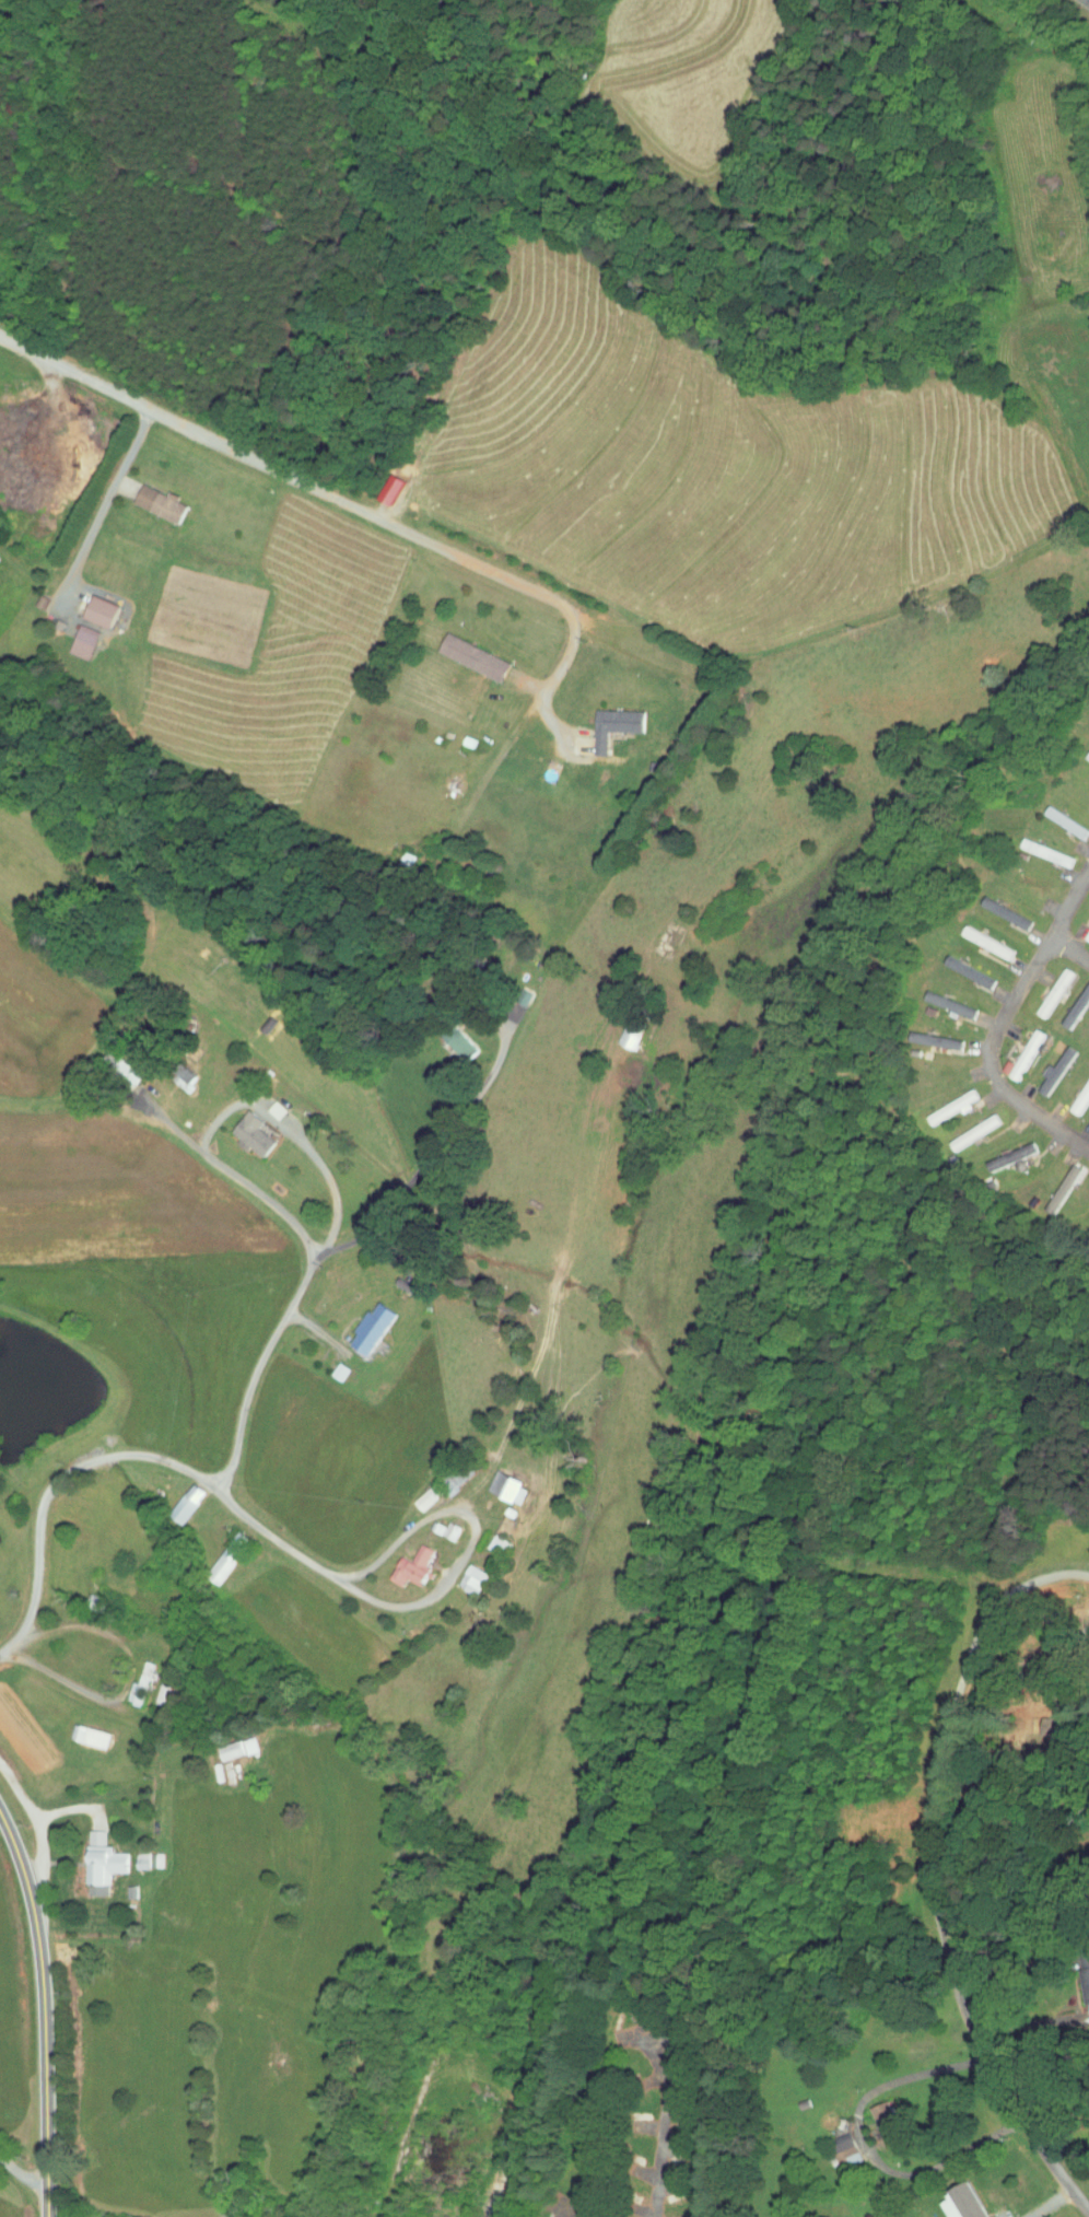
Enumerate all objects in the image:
road: (289, 475)
building: (152, 498)
road: (105, 500)
building: (94, 606)
building: (75, 635)
building: (466, 651)
road: (548, 686)
building: (607, 720)
building: (977, 936)
road: (1069, 952)
building: (961, 966)
building: (1045, 987)
building: (1069, 997)
building: (941, 999)
road: (996, 1025)
building: (621, 1028)
building: (928, 1035)
building: (450, 1038)
building: (1088, 1046)
building: (1014, 1050)
building: (115, 1062)
building: (1044, 1066)
building: (1076, 1086)
building: (942, 1100)
building: (265, 1104)
road: (227, 1110)
building: (965, 1125)
building: (245, 1129)
building: (1003, 1150)
building: (1053, 1182)
building: (363, 1322)
building: (330, 1365)
road: (239, 1413)
building: (446, 1472)
building: (500, 1480)
building: (417, 1492)
building: (179, 1496)
building: (436, 1522)
road: (473, 1536)
road: (271, 1537)
building: (220, 1551)
building: (403, 1561)
building: (467, 1573)
road: (129, 1670)
building: (155, 1688)
building: (81, 1729)
building: (229, 1742)
road: (72, 1808)
road: (39, 1820)
building: (139, 1854)
building: (92, 1856)
road: (1028, 1862)
road: (934, 1876)
road: (1009, 1964)
building: (1079, 1974)
road: (47, 2014)
road: (1027, 2023)
road: (663, 2116)
building: (877, 2117)
building: (833, 2143)
road: (862, 2146)
road: (22, 2182)
building: (957, 2200)
road: (1049, 2204)

